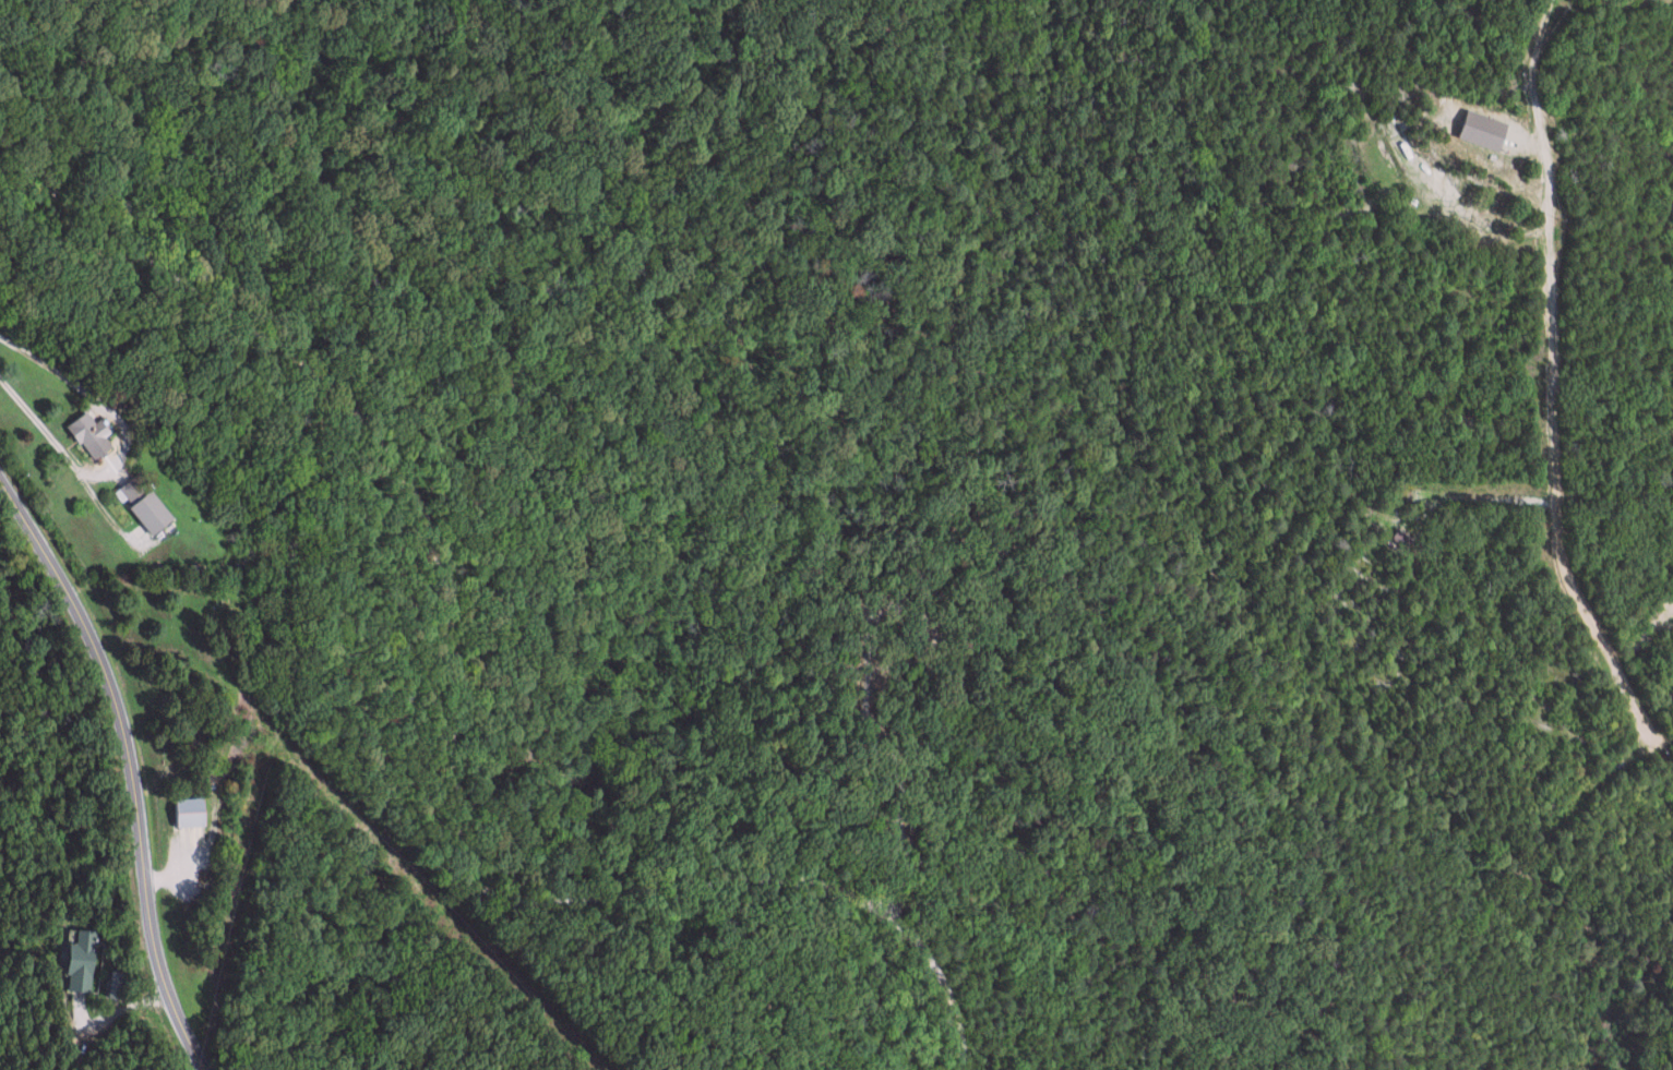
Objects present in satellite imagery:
building: (1484, 131)
road: (1486, 247)
road: (1546, 406)
building: (89, 434)
road: (135, 464)
building: (143, 505)
building: (1401, 539)
road: (423, 689)
road: (136, 759)
building: (190, 811)
building: (81, 961)
road: (694, 977)
building: (115, 984)

